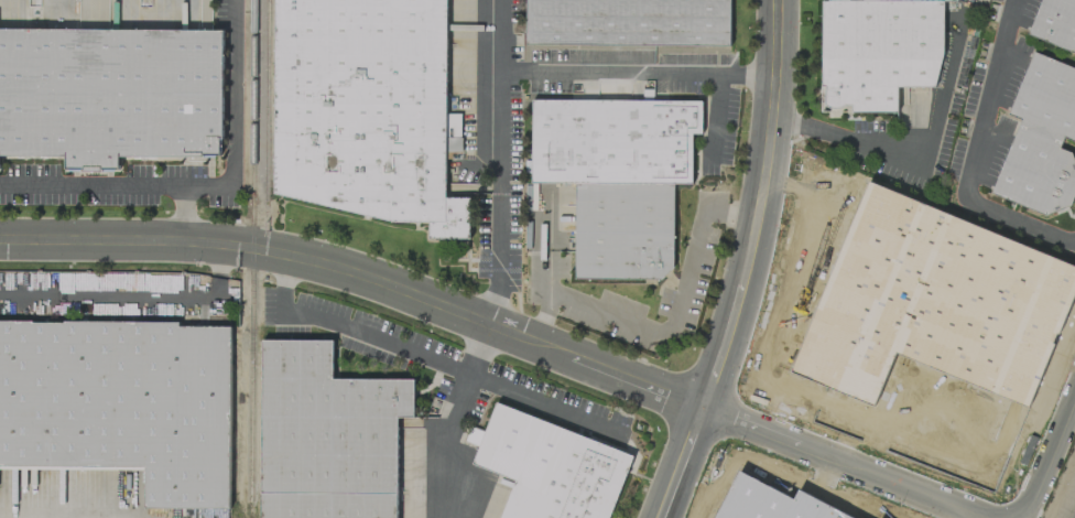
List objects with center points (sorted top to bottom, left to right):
building: (627, 21)
building: (1055, 22)
building: (878, 50)
road: (637, 74)
building: (109, 94)
railway: (265, 100)
building: (363, 109)
road: (716, 117)
building: (1040, 138)
road: (971, 157)
road: (914, 158)
road: (500, 162)
building: (616, 175)
road: (209, 184)
road: (756, 206)
road: (181, 212)
railway: (249, 253)
road: (546, 266)
road: (284, 269)
road: (131, 293)
road: (680, 309)
road: (765, 328)
road: (502, 330)
road: (362, 331)
road: (478, 348)
building: (120, 401)
road: (458, 401)
road: (544, 402)
building: (325, 435)
road: (1049, 458)
road: (680, 462)
building: (550, 467)
road: (444, 474)
road: (824, 474)
road: (749, 481)
road: (812, 504)
road: (768, 505)

